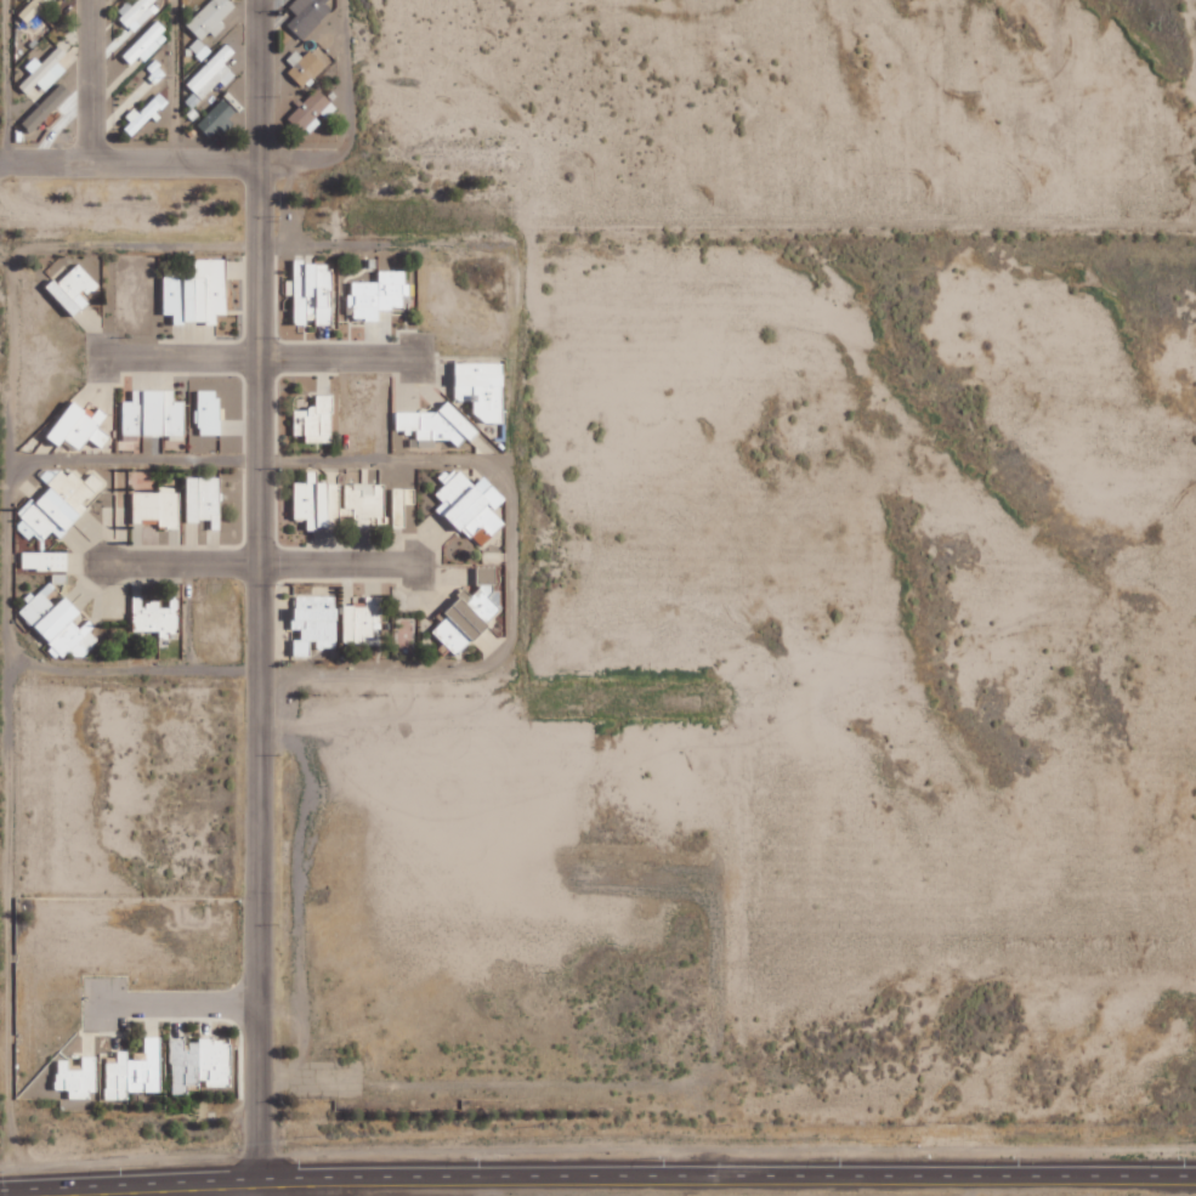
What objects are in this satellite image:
building: (32, 10)
building: (137, 11)
building: (307, 15)
building: (210, 18)
building: (147, 44)
building: (199, 49)
building: (35, 66)
building: (304, 66)
building: (214, 73)
road: (83, 80)
building: (311, 110)
building: (146, 113)
building: (216, 118)
road: (170, 159)
road: (4, 251)
building: (75, 289)
building: (311, 291)
building: (199, 294)
building: (380, 295)
road: (175, 356)
road: (333, 356)
building: (483, 390)
building: (209, 412)
building: (153, 414)
building: (314, 421)
building: (436, 426)
building: (81, 427)
building: (204, 500)
building: (336, 501)
building: (58, 505)
building: (157, 506)
building: (472, 508)
building: (45, 561)
road: (334, 566)
road: (180, 567)
road: (257, 597)
building: (470, 613)
building: (157, 616)
building: (363, 620)
building: (59, 624)
building: (316, 624)
road: (10, 724)
road: (182, 1005)
building: (202, 1064)
building: (136, 1071)
road: (731, 1175)

